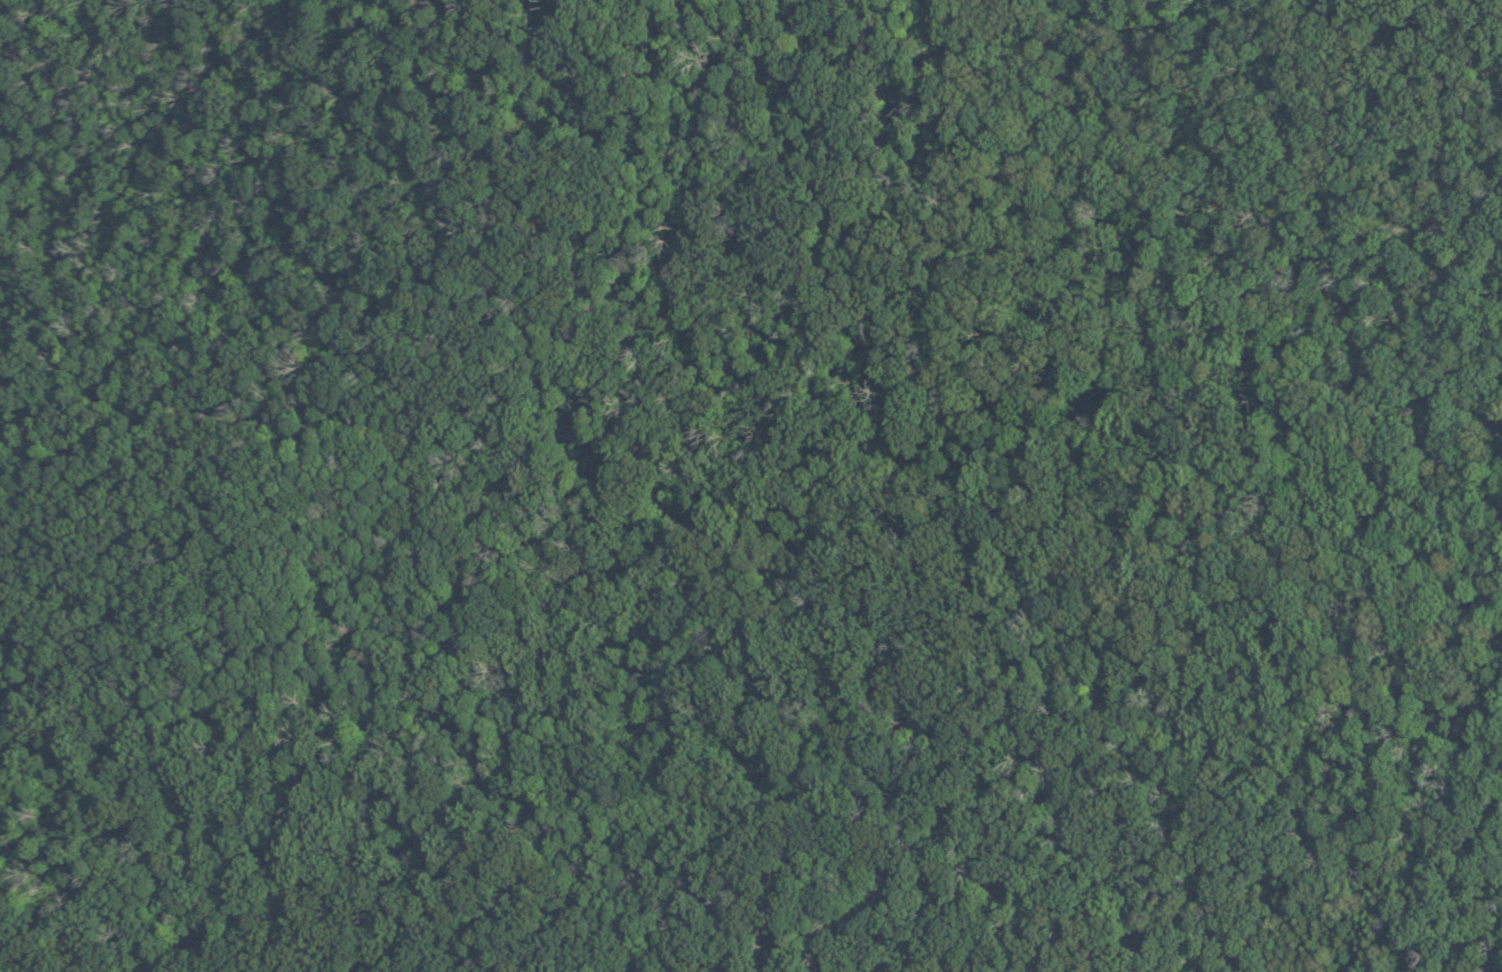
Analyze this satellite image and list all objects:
road: (1468, 12)
road: (1360, 104)
road: (330, 148)
road: (635, 186)
park: (751, 486)
road: (511, 558)

